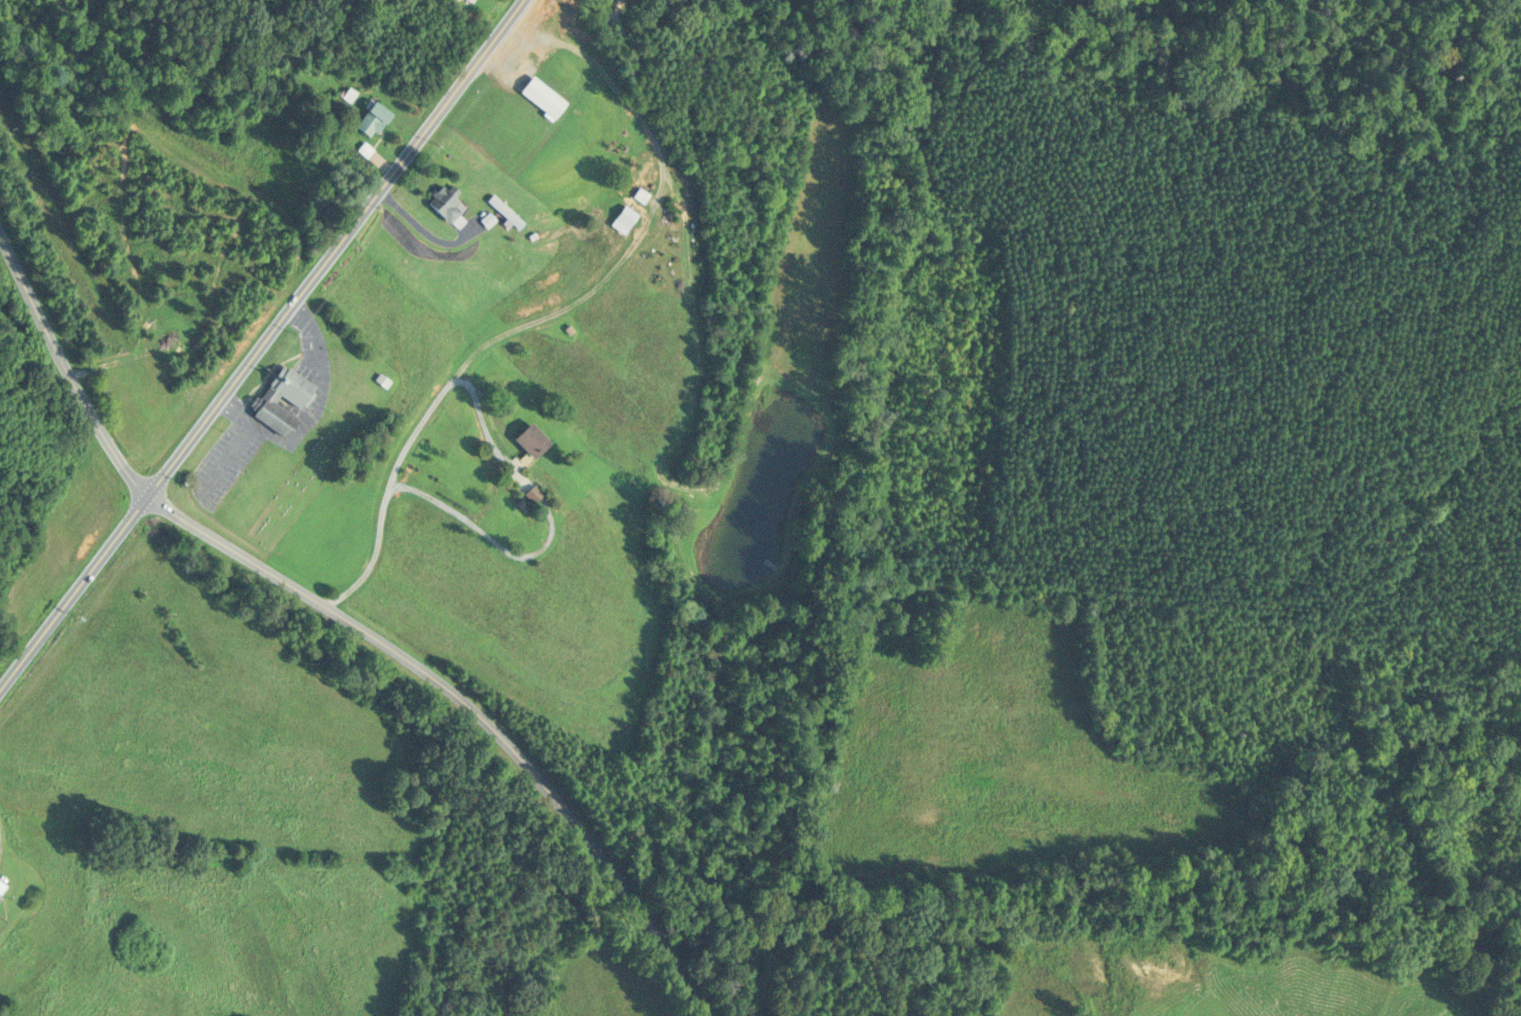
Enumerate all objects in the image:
building: (471, 0)
building: (614, 0)
road: (620, 34)
building: (541, 96)
building: (372, 118)
building: (640, 194)
building: (443, 204)
building: (504, 211)
building: (622, 218)
road: (422, 228)
road: (260, 343)
road: (65, 368)
building: (296, 399)
road: (1177, 405)
road: (409, 440)
building: (530, 440)
road: (483, 532)
road: (893, 650)
road: (1509, 677)
road: (474, 706)

